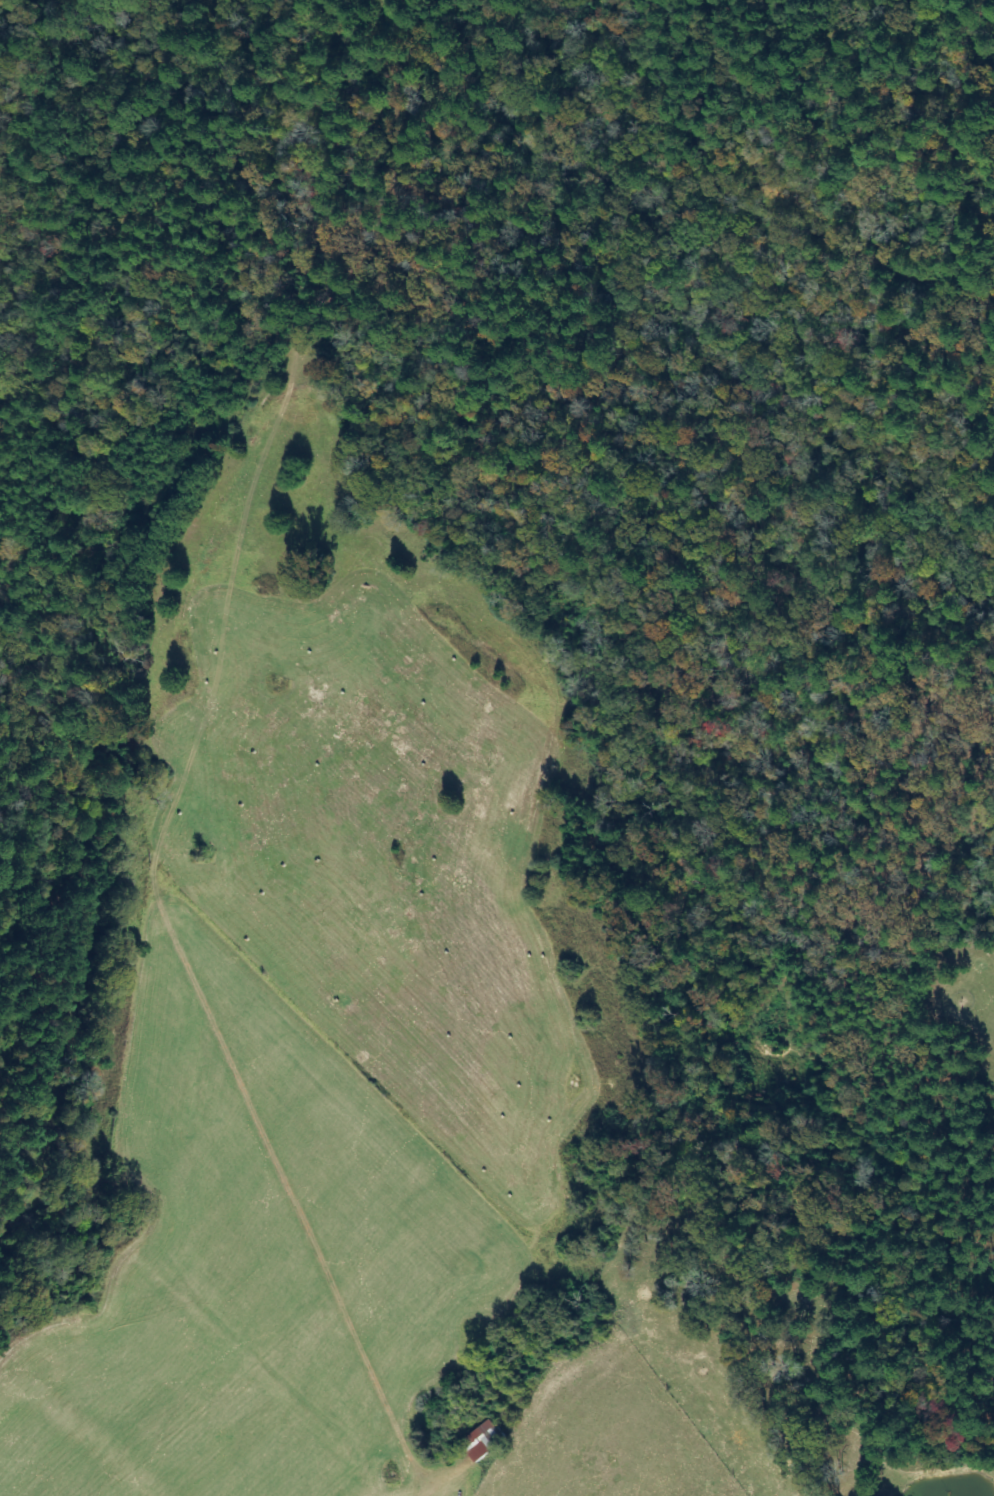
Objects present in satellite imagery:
building: (487, 1441)

